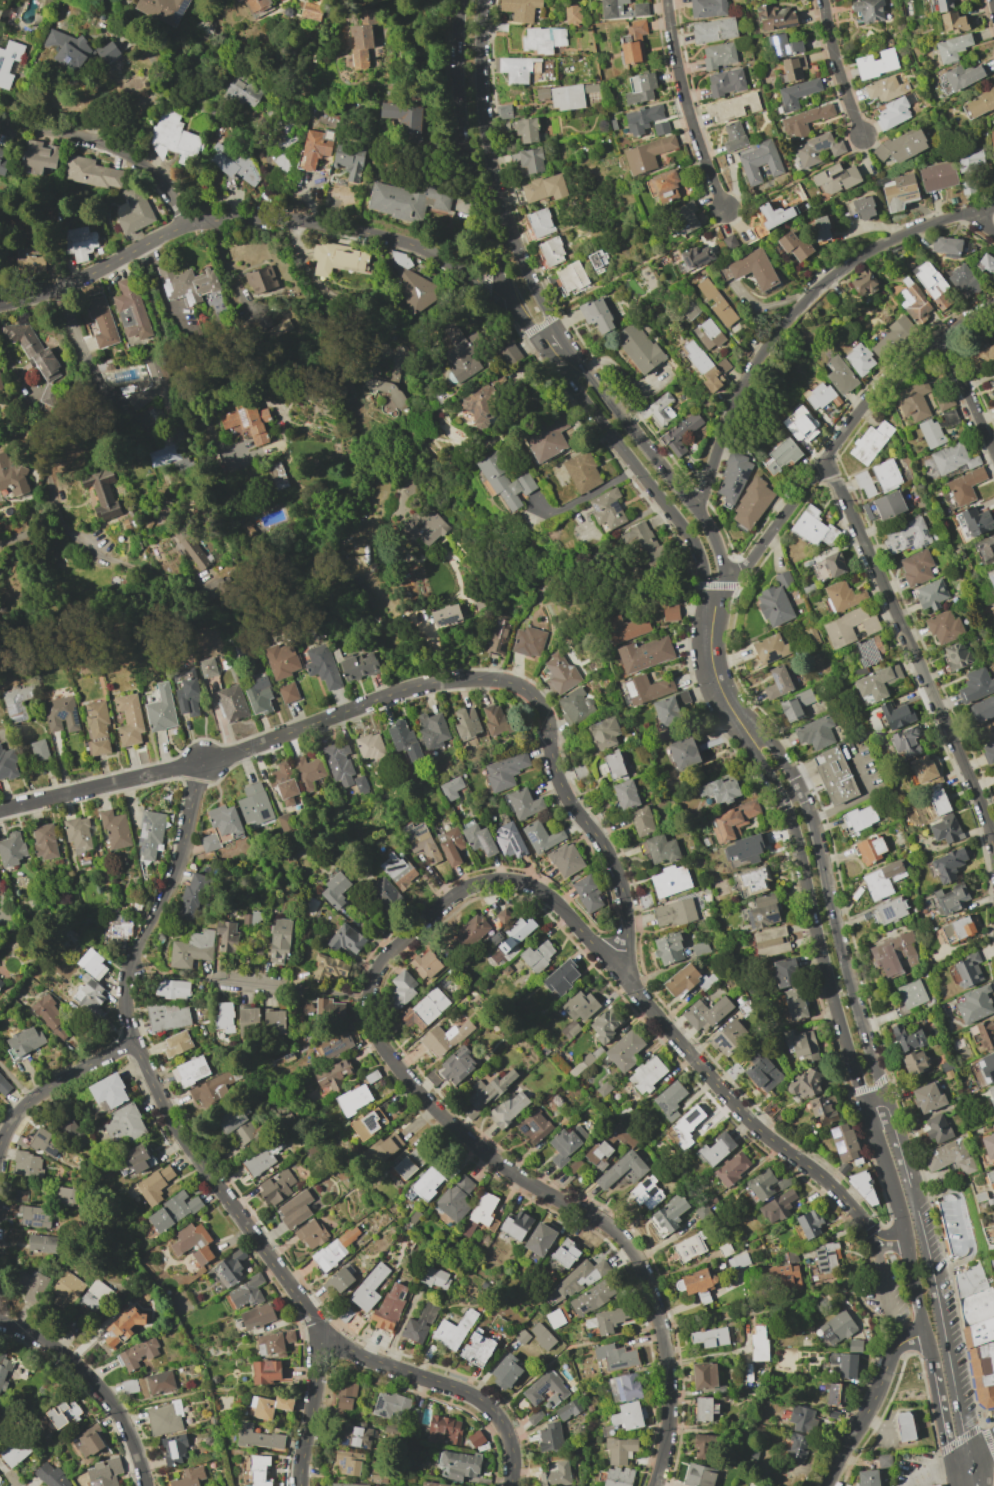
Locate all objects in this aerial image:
building: (253, 5)
building: (944, 5)
building: (610, 7)
building: (707, 8)
building: (520, 9)
building: (163, 10)
building: (867, 10)
building: (572, 14)
building: (776, 17)
building: (953, 22)
building: (713, 30)
building: (361, 39)
building: (543, 39)
building: (633, 42)
building: (783, 45)
building: (952, 47)
building: (67, 49)
building: (107, 52)
building: (718, 55)
building: (8, 61)
building: (877, 63)
building: (793, 68)
building: (514, 69)
road: (838, 70)
building: (962, 76)
building: (726, 82)
building: (640, 88)
building: (885, 88)
building: (242, 92)
building: (542, 93)
building: (796, 93)
building: (566, 97)
building: (978, 102)
road: (687, 107)
building: (731, 107)
building: (504, 111)
building: (892, 112)
building: (642, 118)
building: (405, 120)
building: (804, 120)
building: (660, 128)
building: (527, 130)
building: (734, 136)
building: (172, 137)
road: (878, 139)
road: (108, 146)
building: (901, 146)
building: (992, 146)
building: (314, 148)
building: (283, 149)
building: (816, 149)
road: (462, 152)
building: (647, 154)
building: (39, 157)
building: (3, 159)
building: (348, 160)
building: (528, 160)
building: (758, 161)
building: (970, 161)
building: (233, 164)
road: (493, 170)
building: (94, 173)
building: (937, 176)
building: (835, 178)
building: (663, 186)
building: (544, 188)
building: (899, 192)
building: (404, 199)
building: (862, 207)
road: (726, 210)
building: (135, 211)
building: (685, 217)
building: (771, 217)
road: (252, 220)
building: (540, 222)
road: (982, 222)
building: (819, 229)
building: (79, 242)
building: (795, 246)
building: (946, 246)
building: (551, 251)
road: (658, 255)
building: (337, 259)
building: (597, 260)
building: (29, 261)
building: (986, 264)
building: (753, 268)
building: (570, 277)
building: (261, 280)
building: (408, 281)
building: (963, 281)
building: (863, 283)
building: (187, 284)
building: (933, 286)
building: (717, 303)
building: (915, 304)
building: (130, 310)
road: (800, 310)
building: (596, 314)
road: (521, 315)
building: (101, 320)
road: (542, 325)
building: (277, 329)
building: (708, 334)
road: (561, 336)
road: (548, 337)
building: (893, 337)
building: (638, 347)
building: (33, 350)
building: (461, 352)
building: (509, 353)
building: (987, 353)
building: (859, 359)
building: (706, 366)
building: (840, 375)
building: (390, 379)
building: (138, 382)
building: (992, 384)
building: (0, 389)
road: (968, 390)
building: (49, 394)
building: (819, 396)
building: (913, 401)
building: (658, 409)
road: (72, 417)
building: (246, 422)
building: (799, 424)
road: (847, 430)
building: (680, 433)
building: (930, 433)
building: (546, 438)
building: (870, 442)
road: (651, 454)
road: (629, 455)
building: (780, 456)
building: (168, 457)
building: (952, 458)
building: (582, 472)
building: (12, 475)
building: (276, 476)
building: (877, 478)
building: (505, 483)
building: (965, 486)
building: (101, 492)
road: (583, 497)
building: (751, 503)
building: (889, 505)
building: (607, 508)
building: (977, 521)
building: (812, 527)
building: (425, 528)
building: (905, 537)
road: (102, 541)
building: (647, 545)
road: (129, 547)
building: (986, 548)
building: (190, 550)
building: (829, 566)
building: (916, 567)
building: (991, 577)
road: (718, 579)
building: (930, 594)
building: (842, 595)
building: (774, 605)
building: (670, 613)
building: (445, 615)
building: (944, 626)
building: (849, 627)
building: (625, 628)
building: (497, 635)
building: (528, 641)
building: (770, 649)
road: (913, 649)
building: (644, 654)
building: (955, 655)
building: (282, 660)
building: (359, 665)
road: (711, 665)
building: (322, 666)
building: (208, 667)
building: (559, 673)
building: (877, 682)
building: (777, 683)
building: (976, 685)
building: (646, 689)
building: (187, 692)
building: (287, 692)
building: (258, 695)
building: (17, 702)
building: (232, 703)
building: (795, 705)
building: (575, 706)
building: (670, 709)
building: (982, 709)
building: (161, 710)
road: (345, 711)
building: (60, 714)
building: (897, 715)
building: (129, 719)
building: (495, 719)
building: (466, 722)
building: (96, 727)
building: (432, 730)
building: (604, 732)
building: (815, 732)
building: (404, 741)
building: (906, 742)
building: (370, 746)
building: (988, 746)
building: (38, 750)
building: (684, 753)
road: (779, 756)
building: (338, 762)
building: (7, 764)
building: (614, 764)
building: (923, 768)
road: (762, 769)
building: (993, 769)
building: (307, 771)
building: (505, 771)
building: (835, 776)
building: (283, 782)
road: (99, 787)
building: (451, 788)
building: (719, 790)
building: (625, 794)
road: (790, 795)
building: (936, 797)
road: (858, 798)
building: (523, 803)
road: (806, 804)
building: (254, 805)
road: (580, 815)
building: (859, 818)
building: (642, 821)
building: (732, 821)
building: (225, 823)
building: (115, 829)
building: (945, 830)
building: (78, 834)
building: (150, 834)
building: (541, 836)
building: (478, 839)
building: (508, 840)
building: (420, 841)
building: (44, 842)
building: (209, 842)
building: (451, 845)
building: (11, 849)
building: (661, 849)
building: (871, 849)
building: (743, 850)
building: (566, 860)
building: (948, 864)
road: (169, 866)
building: (398, 870)
building: (882, 879)
building: (670, 881)
building: (754, 881)
road: (488, 882)
building: (335, 891)
building: (386, 893)
building: (587, 893)
building: (192, 896)
building: (950, 898)
building: (890, 910)
building: (763, 912)
building: (673, 913)
building: (503, 916)
building: (957, 929)
building: (471, 930)
building: (515, 933)
building: (227, 936)
building: (345, 939)
building: (279, 941)
building: (771, 942)
building: (191, 949)
building: (668, 949)
building: (894, 955)
building: (537, 956)
road: (846, 962)
building: (92, 964)
building: (425, 964)
building: (328, 967)
road: (924, 968)
building: (968, 969)
building: (784, 972)
road: (176, 973)
building: (560, 978)
building: (681, 980)
building: (1, 983)
road: (258, 985)
building: (172, 989)
building: (401, 990)
road: (332, 992)
building: (910, 994)
building: (88, 995)
road: (125, 1004)
building: (794, 1004)
building: (974, 1004)
building: (580, 1006)
building: (425, 1009)
building: (329, 1010)
building: (706, 1013)
building: (167, 1016)
building: (224, 1016)
building: (51, 1018)
building: (248, 1020)
building: (274, 1021)
building: (605, 1024)
building: (983, 1033)
building: (444, 1038)
building: (729, 1038)
building: (908, 1038)
building: (24, 1042)
building: (176, 1043)
building: (335, 1043)
building: (802, 1044)
building: (624, 1050)
building: (914, 1062)
building: (457, 1066)
road: (852, 1066)
building: (988, 1066)
road: (82, 1069)
building: (190, 1071)
building: (762, 1073)
building: (647, 1074)
building: (333, 1075)
road: (15, 1082)
building: (805, 1084)
building: (4, 1086)
road: (870, 1087)
building: (211, 1089)
building: (488, 1089)
building: (108, 1091)
building: (991, 1093)
building: (927, 1098)
building: (353, 1099)
building: (669, 1100)
road: (165, 1103)
road: (875, 1106)
building: (508, 1108)
building: (823, 1109)
road: (12, 1120)
building: (368, 1123)
road: (752, 1123)
building: (124, 1124)
building: (236, 1125)
building: (686, 1126)
building: (534, 1127)
building: (70, 1128)
building: (937, 1128)
building: (43, 1142)
building: (566, 1143)
building: (845, 1143)
building: (988, 1145)
building: (383, 1148)
building: (715, 1149)
road: (898, 1150)
building: (598, 1154)
building: (949, 1157)
building: (258, 1162)
building: (28, 1164)
building: (408, 1164)
building: (732, 1168)
building: (621, 1169)
building: (843, 1169)
building: (990, 1177)
building: (427, 1183)
building: (154, 1185)
building: (763, 1185)
building: (275, 1186)
building: (863, 1186)
road: (935, 1189)
building: (646, 1194)
building: (19, 1195)
building: (67, 1196)
building: (455, 1198)
road: (228, 1201)
road: (580, 1207)
building: (777, 1207)
building: (295, 1209)
building: (173, 1211)
building: (481, 1213)
building: (668, 1215)
building: (35, 1217)
building: (809, 1223)
parking lot: (955, 1224)
road: (959, 1224)
building: (516, 1225)
building: (953, 1225)
building: (310, 1234)
building: (540, 1239)
building: (42, 1243)
building: (193, 1243)
building: (688, 1248)
building: (334, 1250)
building: (563, 1256)
building: (826, 1257)
building: (737, 1261)
road: (952, 1262)
building: (229, 1269)
building: (784, 1275)
building: (434, 1278)
building: (576, 1280)
building: (699, 1283)
building: (31, 1285)
building: (369, 1288)
building: (65, 1290)
road: (293, 1291)
parking lot: (886, 1291)
building: (246, 1292)
road: (886, 1292)
road: (860, 1295)
building: (973, 1296)
building: (93, 1297)
building: (592, 1298)
building: (390, 1305)
road: (745, 1309)
building: (257, 1316)
building: (554, 1318)
building: (607, 1320)
building: (419, 1323)
building: (123, 1326)
building: (836, 1328)
road: (650, 1329)
building: (453, 1330)
road: (941, 1330)
building: (977, 1332)
building: (541, 1336)
building: (710, 1337)
building: (273, 1343)
building: (758, 1343)
road: (51, 1346)
building: (477, 1349)
building: (138, 1353)
building: (615, 1356)
building: (844, 1364)
building: (3, 1371)
building: (266, 1371)
building: (506, 1372)
building: (982, 1373)
building: (704, 1375)
building: (159, 1382)
road: (451, 1386)
building: (625, 1387)
road: (226, 1388)
building: (545, 1390)
building: (836, 1394)
building: (345, 1396)
road: (873, 1404)
building: (390, 1405)
road: (940, 1405)
building: (269, 1406)
building: (568, 1409)
building: (704, 1409)
building: (63, 1413)
road: (312, 1413)
building: (627, 1416)
building: (164, 1418)
building: (801, 1418)
building: (904, 1426)
building: (444, 1429)
road: (128, 1431)
building: (354, 1435)
building: (549, 1437)
building: (258, 1438)
building: (475, 1439)
building: (88, 1441)
building: (704, 1446)
building: (797, 1447)
building: (174, 1449)
building: (620, 1450)
road: (982, 1451)
building: (13, 1452)
building: (347, 1462)
building: (459, 1464)
road: (932, 1467)
building: (259, 1470)
road: (962, 1471)
building: (104, 1472)
road: (973, 1474)
building: (556, 1475)
building: (699, 1475)
building: (51, 1476)
building: (189, 1477)
building: (618, 1477)
building: (868, 1478)
road: (955, 1482)
building: (348, 1484)
building: (433, 1484)
road: (13, 1485)
building: (762, 1485)
building: (936, 1485)

